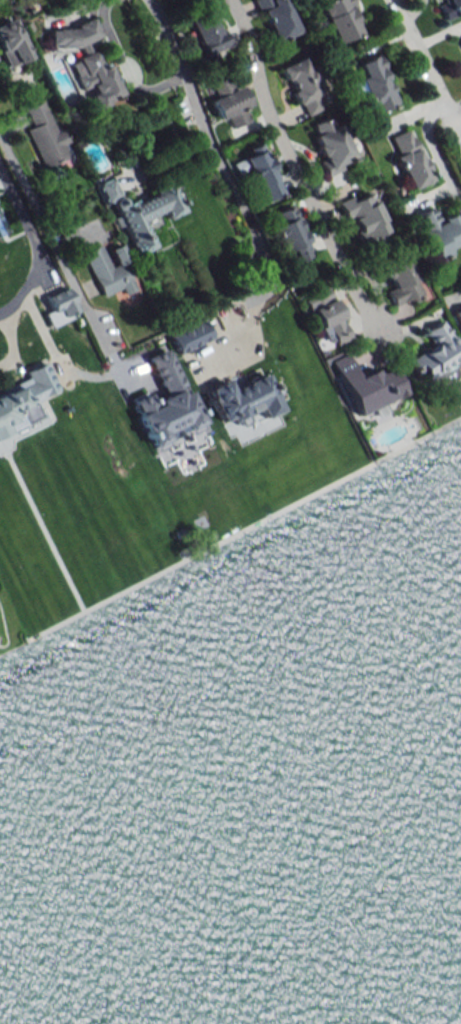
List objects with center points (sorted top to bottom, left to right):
building: (450, 8)
building: (276, 18)
building: (340, 19)
building: (208, 32)
building: (460, 38)
building: (11, 44)
building: (86, 62)
road: (421, 63)
road: (122, 66)
building: (301, 81)
building: (374, 83)
building: (229, 103)
road: (458, 125)
road: (424, 130)
building: (45, 135)
building: (330, 145)
road: (212, 152)
building: (408, 160)
building: (259, 171)
road: (297, 179)
building: (137, 211)
building: (364, 218)
building: (3, 224)
building: (438, 232)
building: (291, 235)
road: (36, 246)
building: (109, 270)
building: (398, 279)
building: (58, 307)
building: (457, 317)
road: (88, 319)
building: (329, 320)
building: (188, 337)
road: (9, 338)
building: (436, 352)
building: (24, 399)
building: (241, 400)
building: (170, 418)

